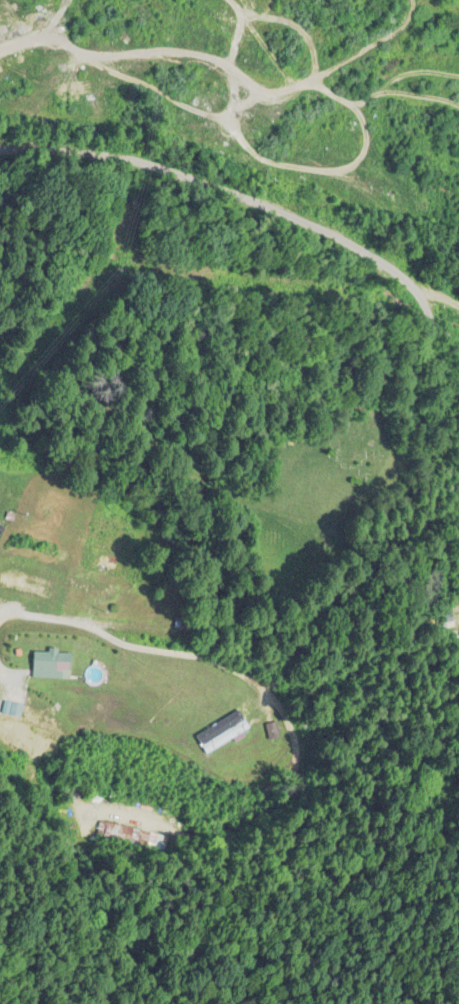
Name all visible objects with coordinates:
road: (238, 195)
building: (93, 585)
road: (143, 650)
building: (52, 663)

